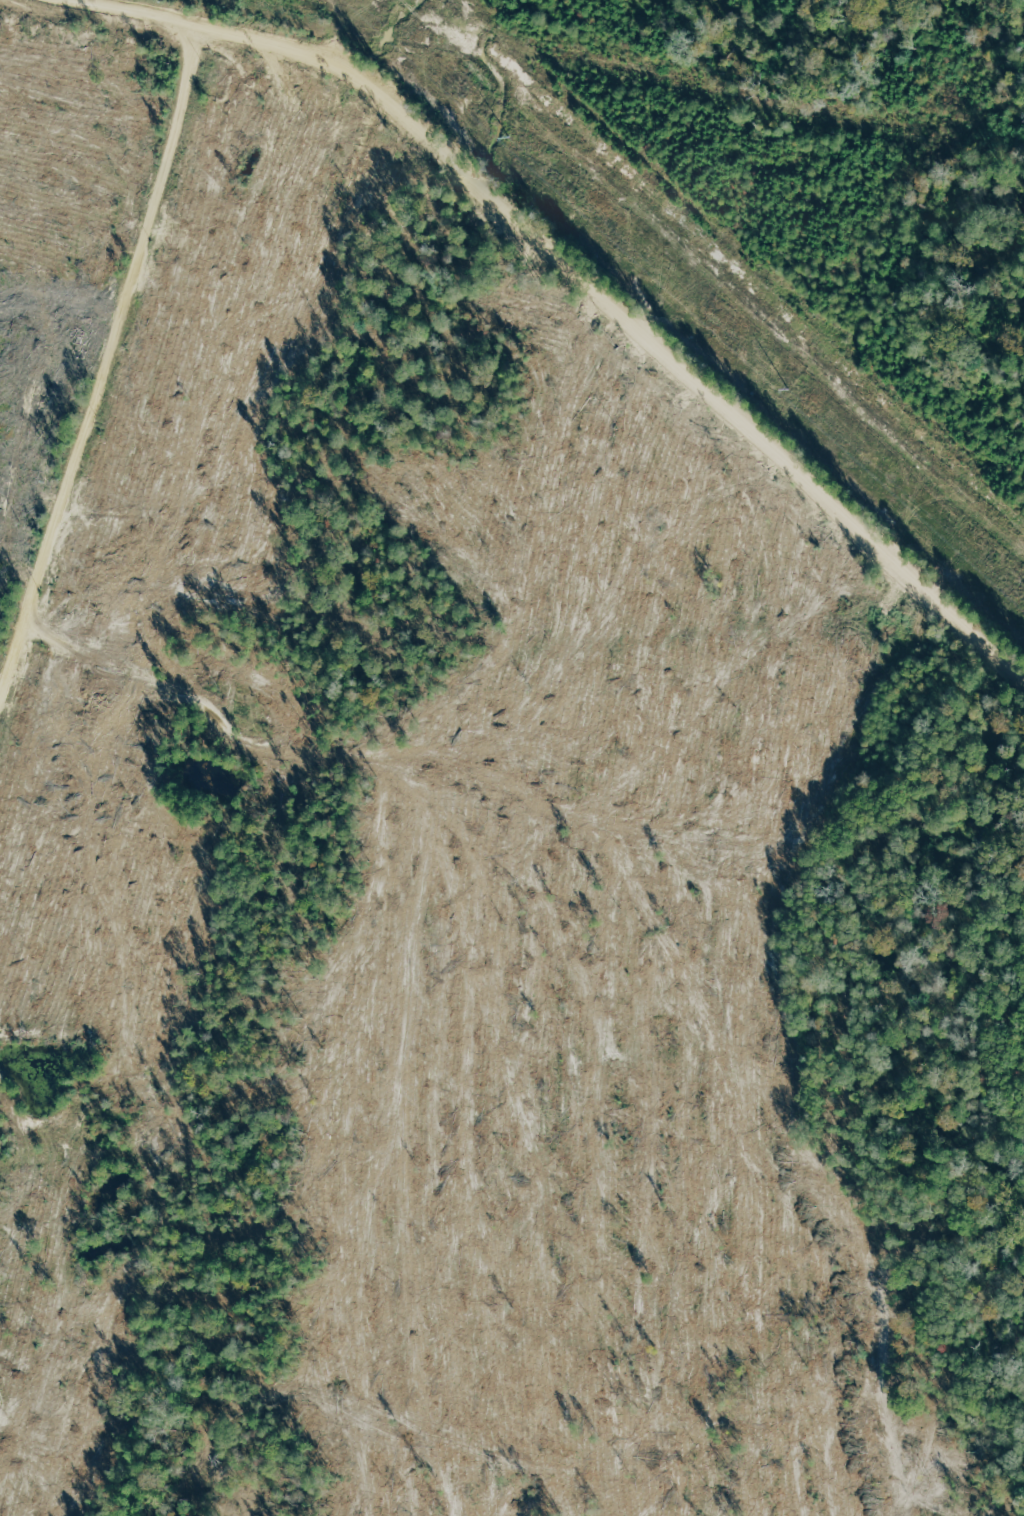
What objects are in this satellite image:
power tower: (509, 144)
road: (598, 287)
road: (102, 354)
power tower: (793, 396)

